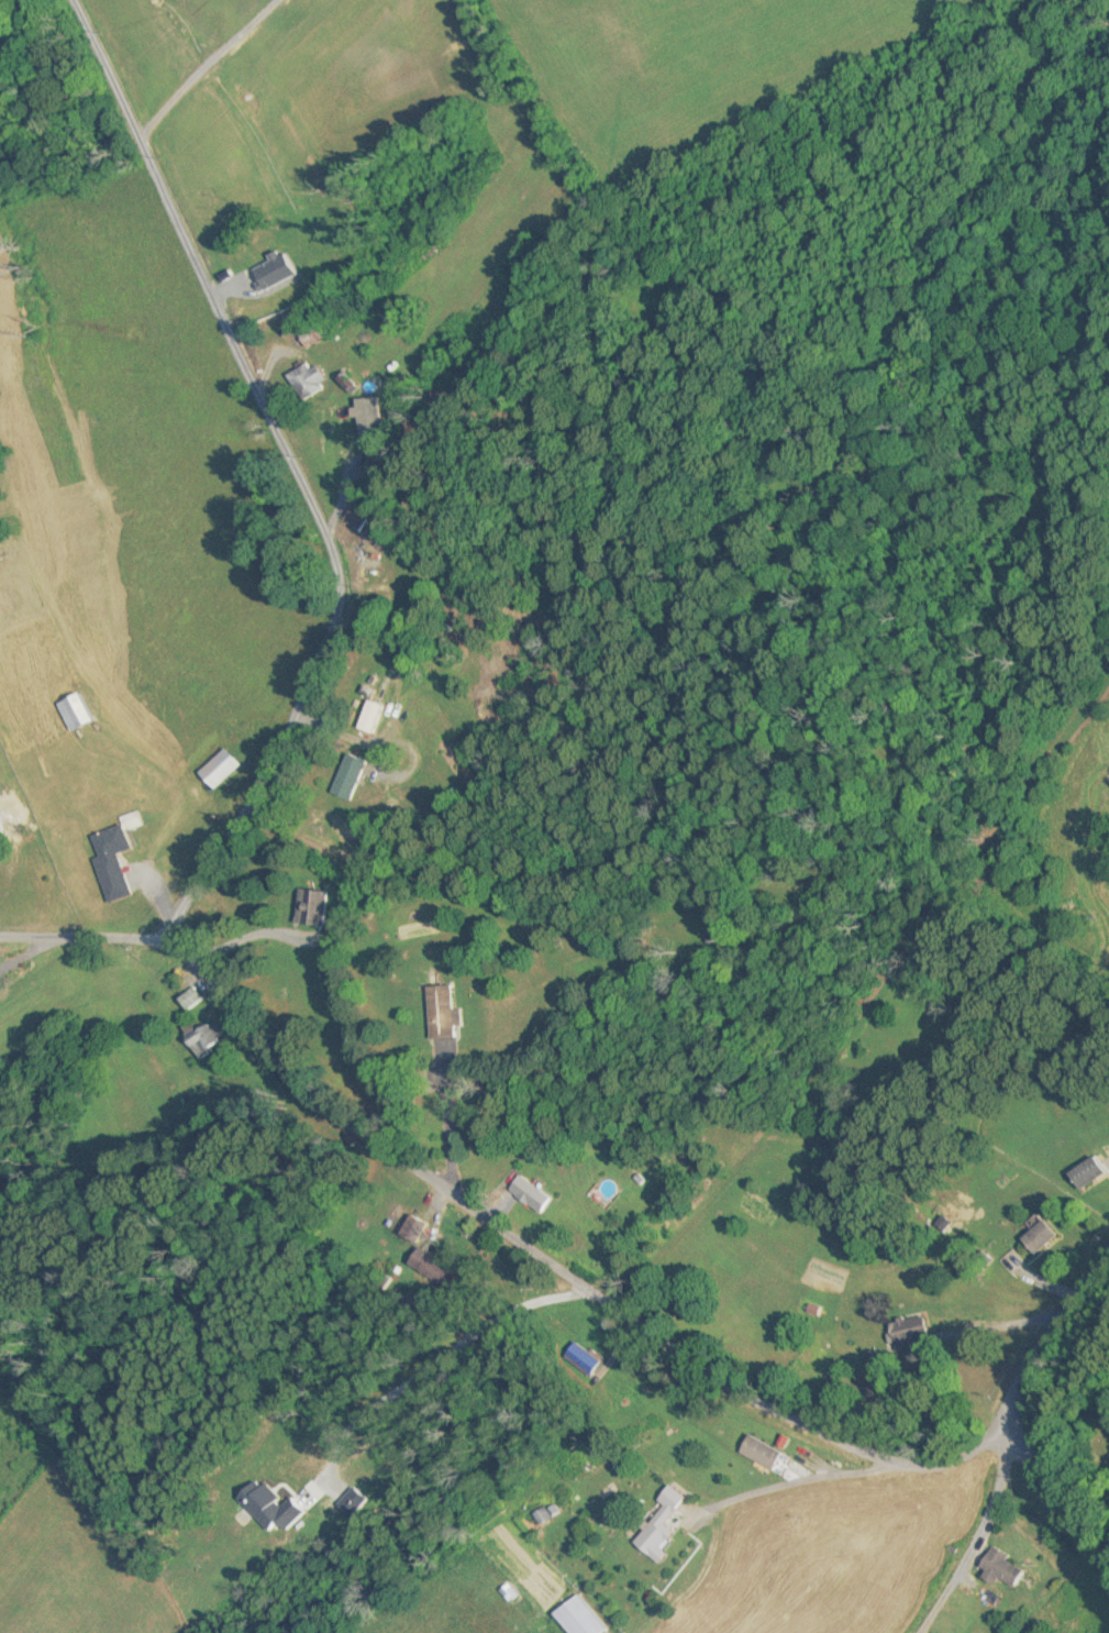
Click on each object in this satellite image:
building: (308, 382)
road: (303, 475)
building: (74, 713)
building: (369, 718)
building: (219, 770)
building: (346, 776)
building: (113, 858)
building: (315, 911)
building: (189, 1001)
building: (437, 1014)
building: (204, 1041)
building: (1087, 1173)
building: (529, 1195)
road: (485, 1213)
building: (1038, 1238)
building: (428, 1266)
road: (1050, 1351)
building: (580, 1359)
building: (758, 1453)
road: (1061, 1496)
building: (656, 1523)
road: (974, 1552)
building: (999, 1568)

